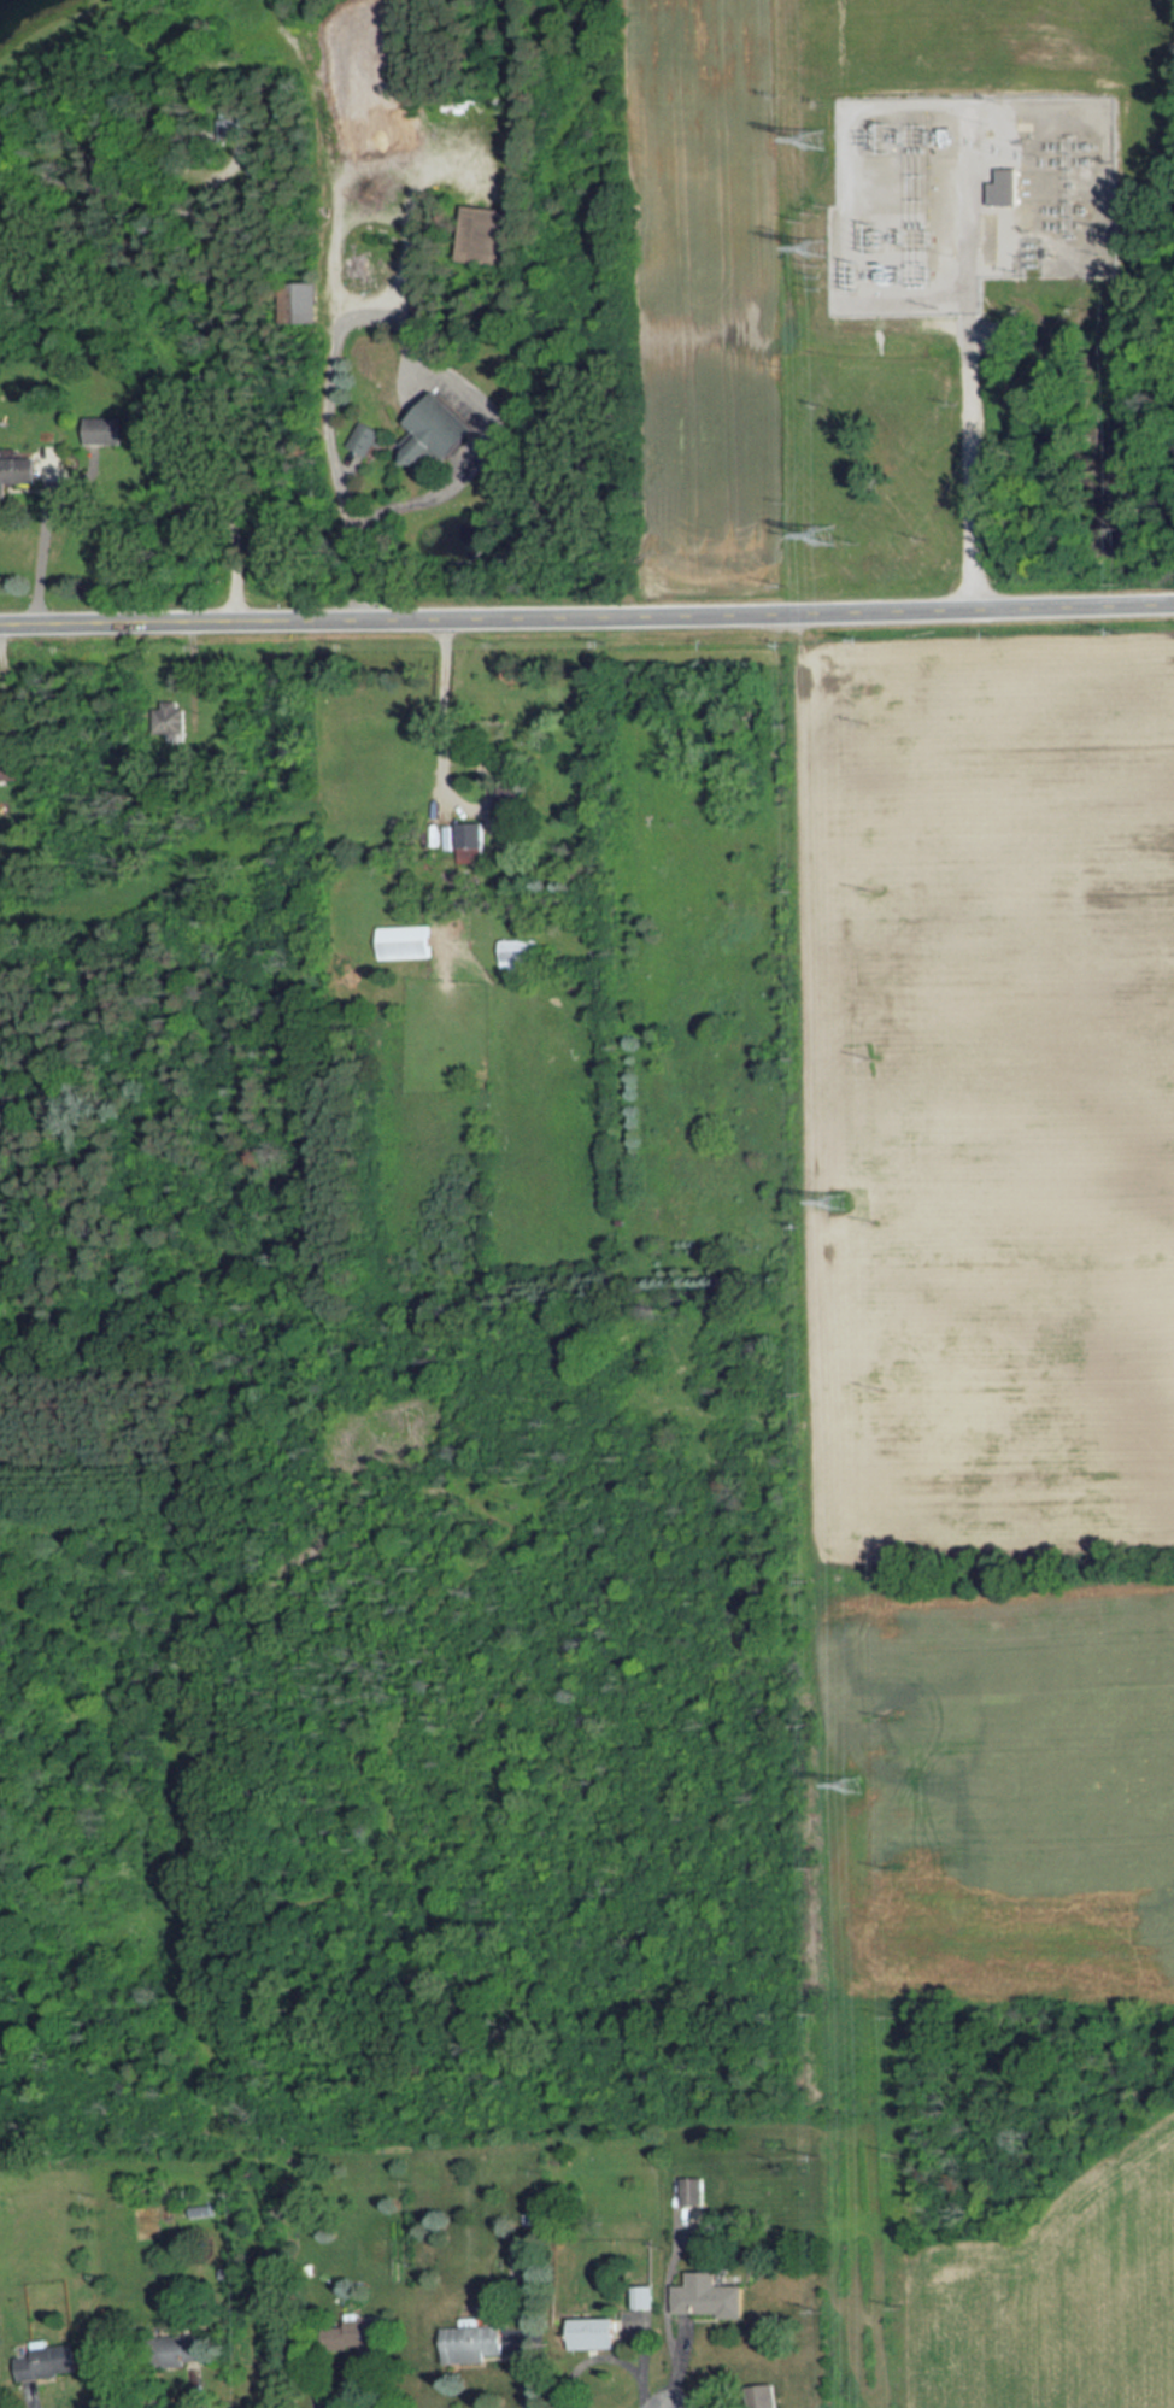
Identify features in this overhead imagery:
power tower: (814, 140)
building: (1005, 190)
power substation: (967, 199)
building: (493, 235)
power tower: (816, 251)
road: (228, 315)
road: (328, 356)
road: (969, 384)
building: (102, 430)
building: (438, 433)
building: (19, 475)
road: (422, 492)
power tower: (826, 535)
road: (41, 552)
road: (587, 616)
building: (10, 770)
road: (435, 770)
building: (512, 800)
building: (469, 842)
building: (403, 941)
building: (516, 955)
power tower: (843, 1204)
power tower: (852, 1789)
building: (692, 2192)
building: (710, 2297)
building: (600, 2334)
building: (475, 2344)
building: (176, 2353)
building: (45, 2361)

